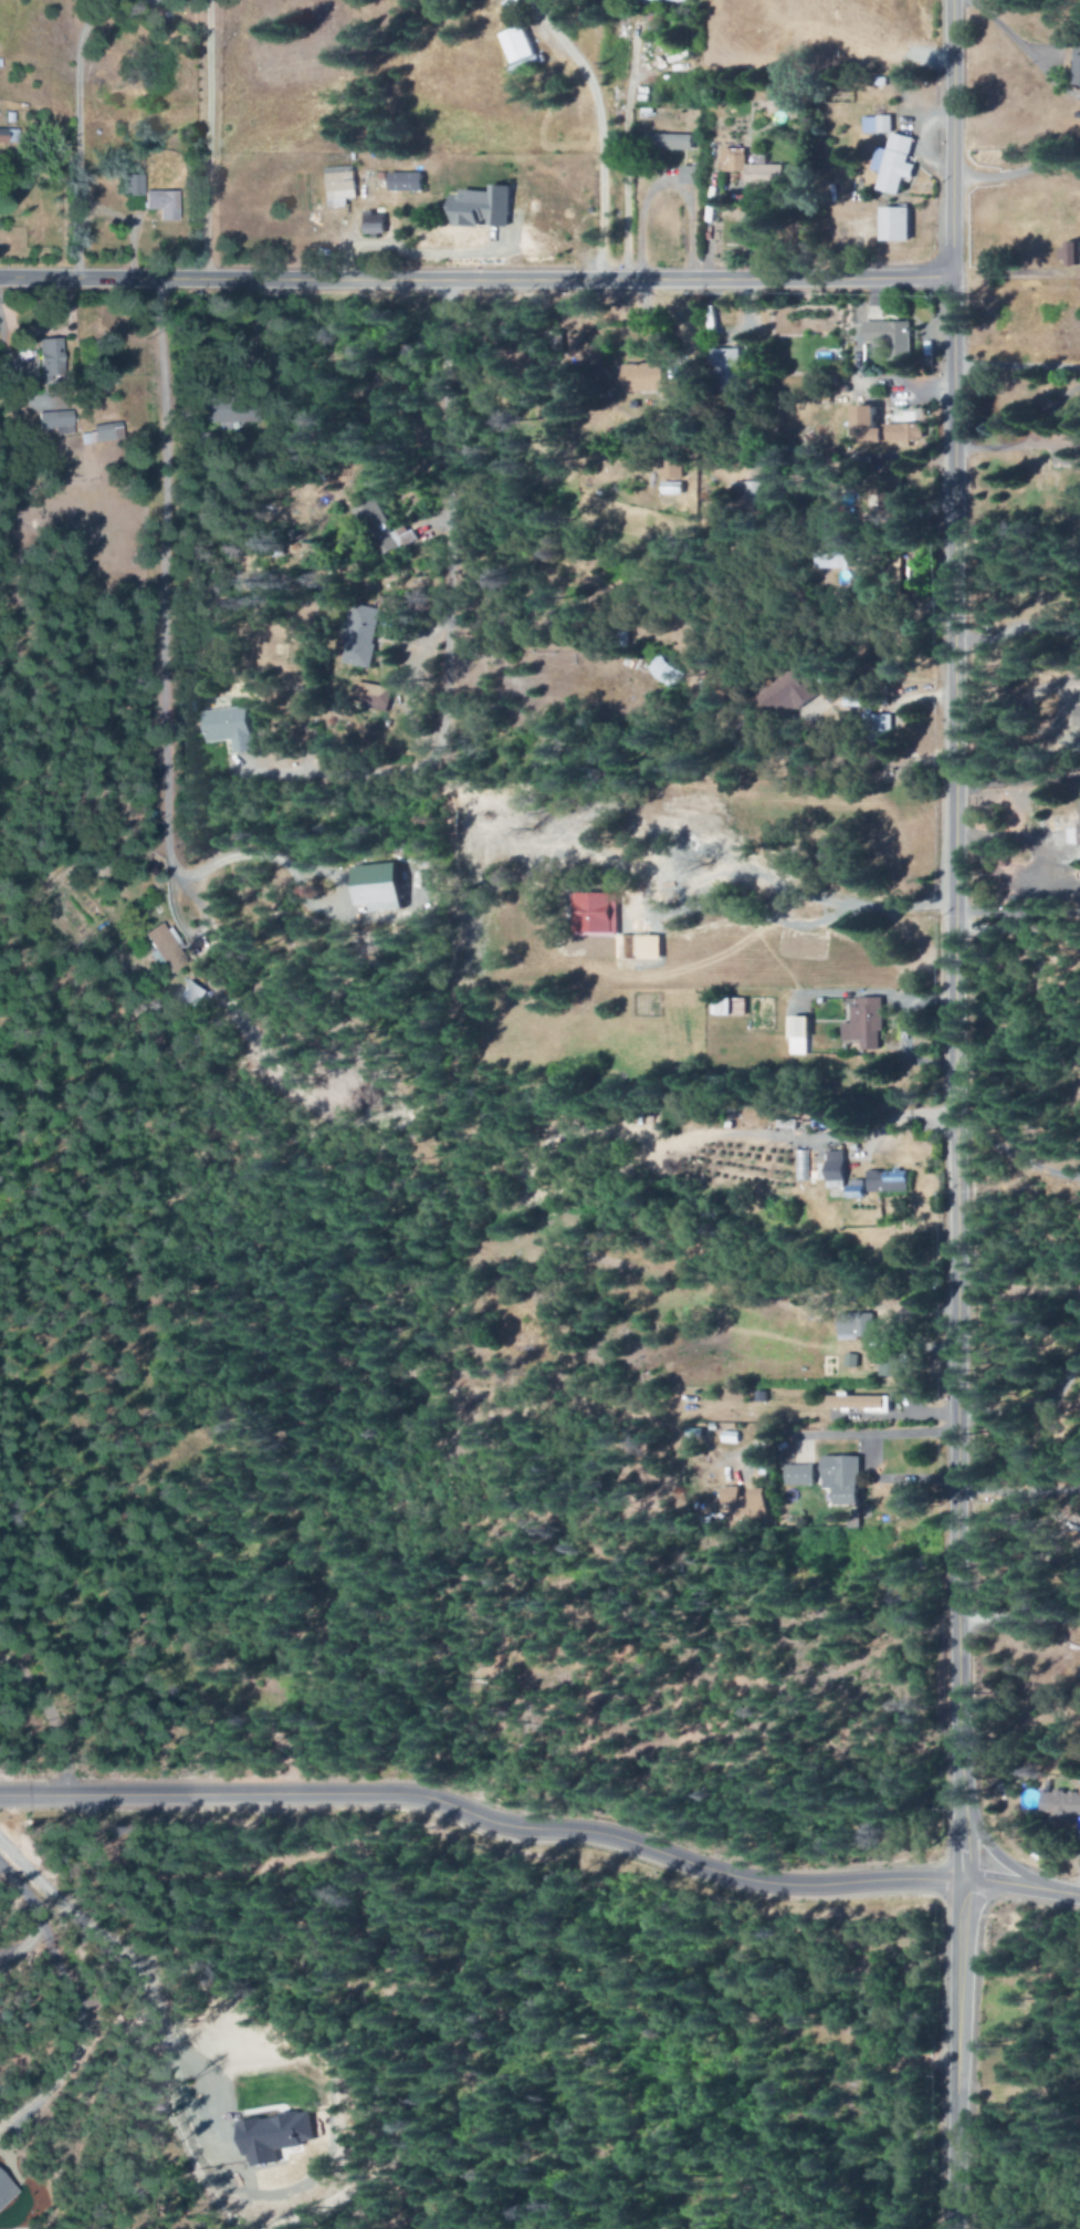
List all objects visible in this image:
building: (669, 0)
building: (143, 2)
building: (518, 45)
building: (842, 96)
building: (878, 125)
building: (10, 137)
building: (673, 143)
building: (895, 164)
building: (753, 169)
building: (689, 175)
building: (406, 181)
building: (133, 185)
building: (340, 186)
building: (162, 205)
building: (482, 208)
building: (374, 223)
building: (896, 225)
building: (1070, 253)
road: (471, 279)
building: (890, 338)
building: (50, 360)
building: (728, 369)
building: (647, 378)
building: (221, 414)
building: (55, 421)
building: (880, 429)
building: (99, 435)
building: (382, 528)
building: (838, 561)
building: (361, 636)
building: (665, 671)
building: (374, 696)
building: (790, 696)
building: (1078, 718)
building: (230, 728)
building: (879, 729)
building: (382, 888)
building: (600, 914)
building: (165, 948)
building: (728, 1008)
building: (866, 1023)
building: (799, 1035)
road: (951, 1114)
building: (836, 1169)
building: (890, 1180)
building: (858, 1189)
building: (856, 1323)
building: (892, 1362)
building: (859, 1402)
building: (801, 1475)
building: (845, 1478)
building: (749, 1502)
building: (1059, 1804)
road: (542, 1824)
road: (995, 1855)
building: (274, 2136)
building: (6, 2190)

